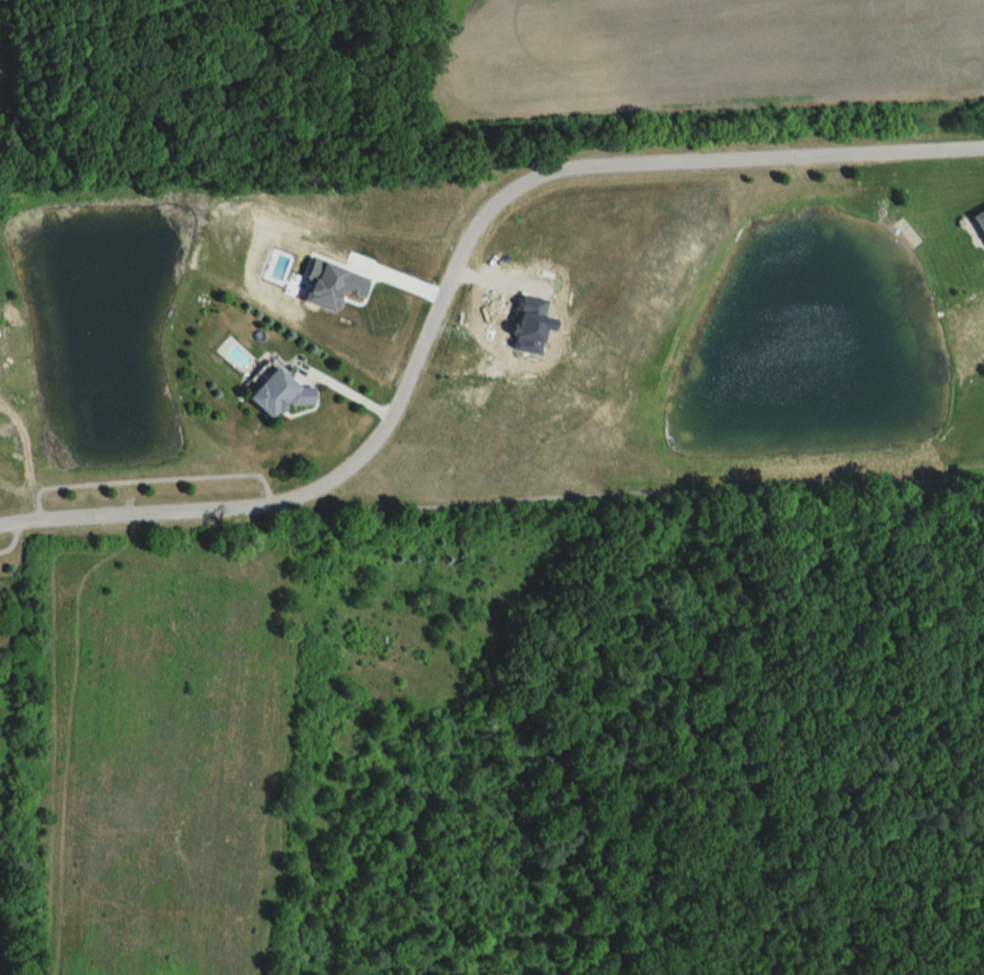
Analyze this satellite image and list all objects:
crop: (704, 58)
building: (979, 222)
road: (452, 275)
building: (274, 391)
road: (346, 391)

